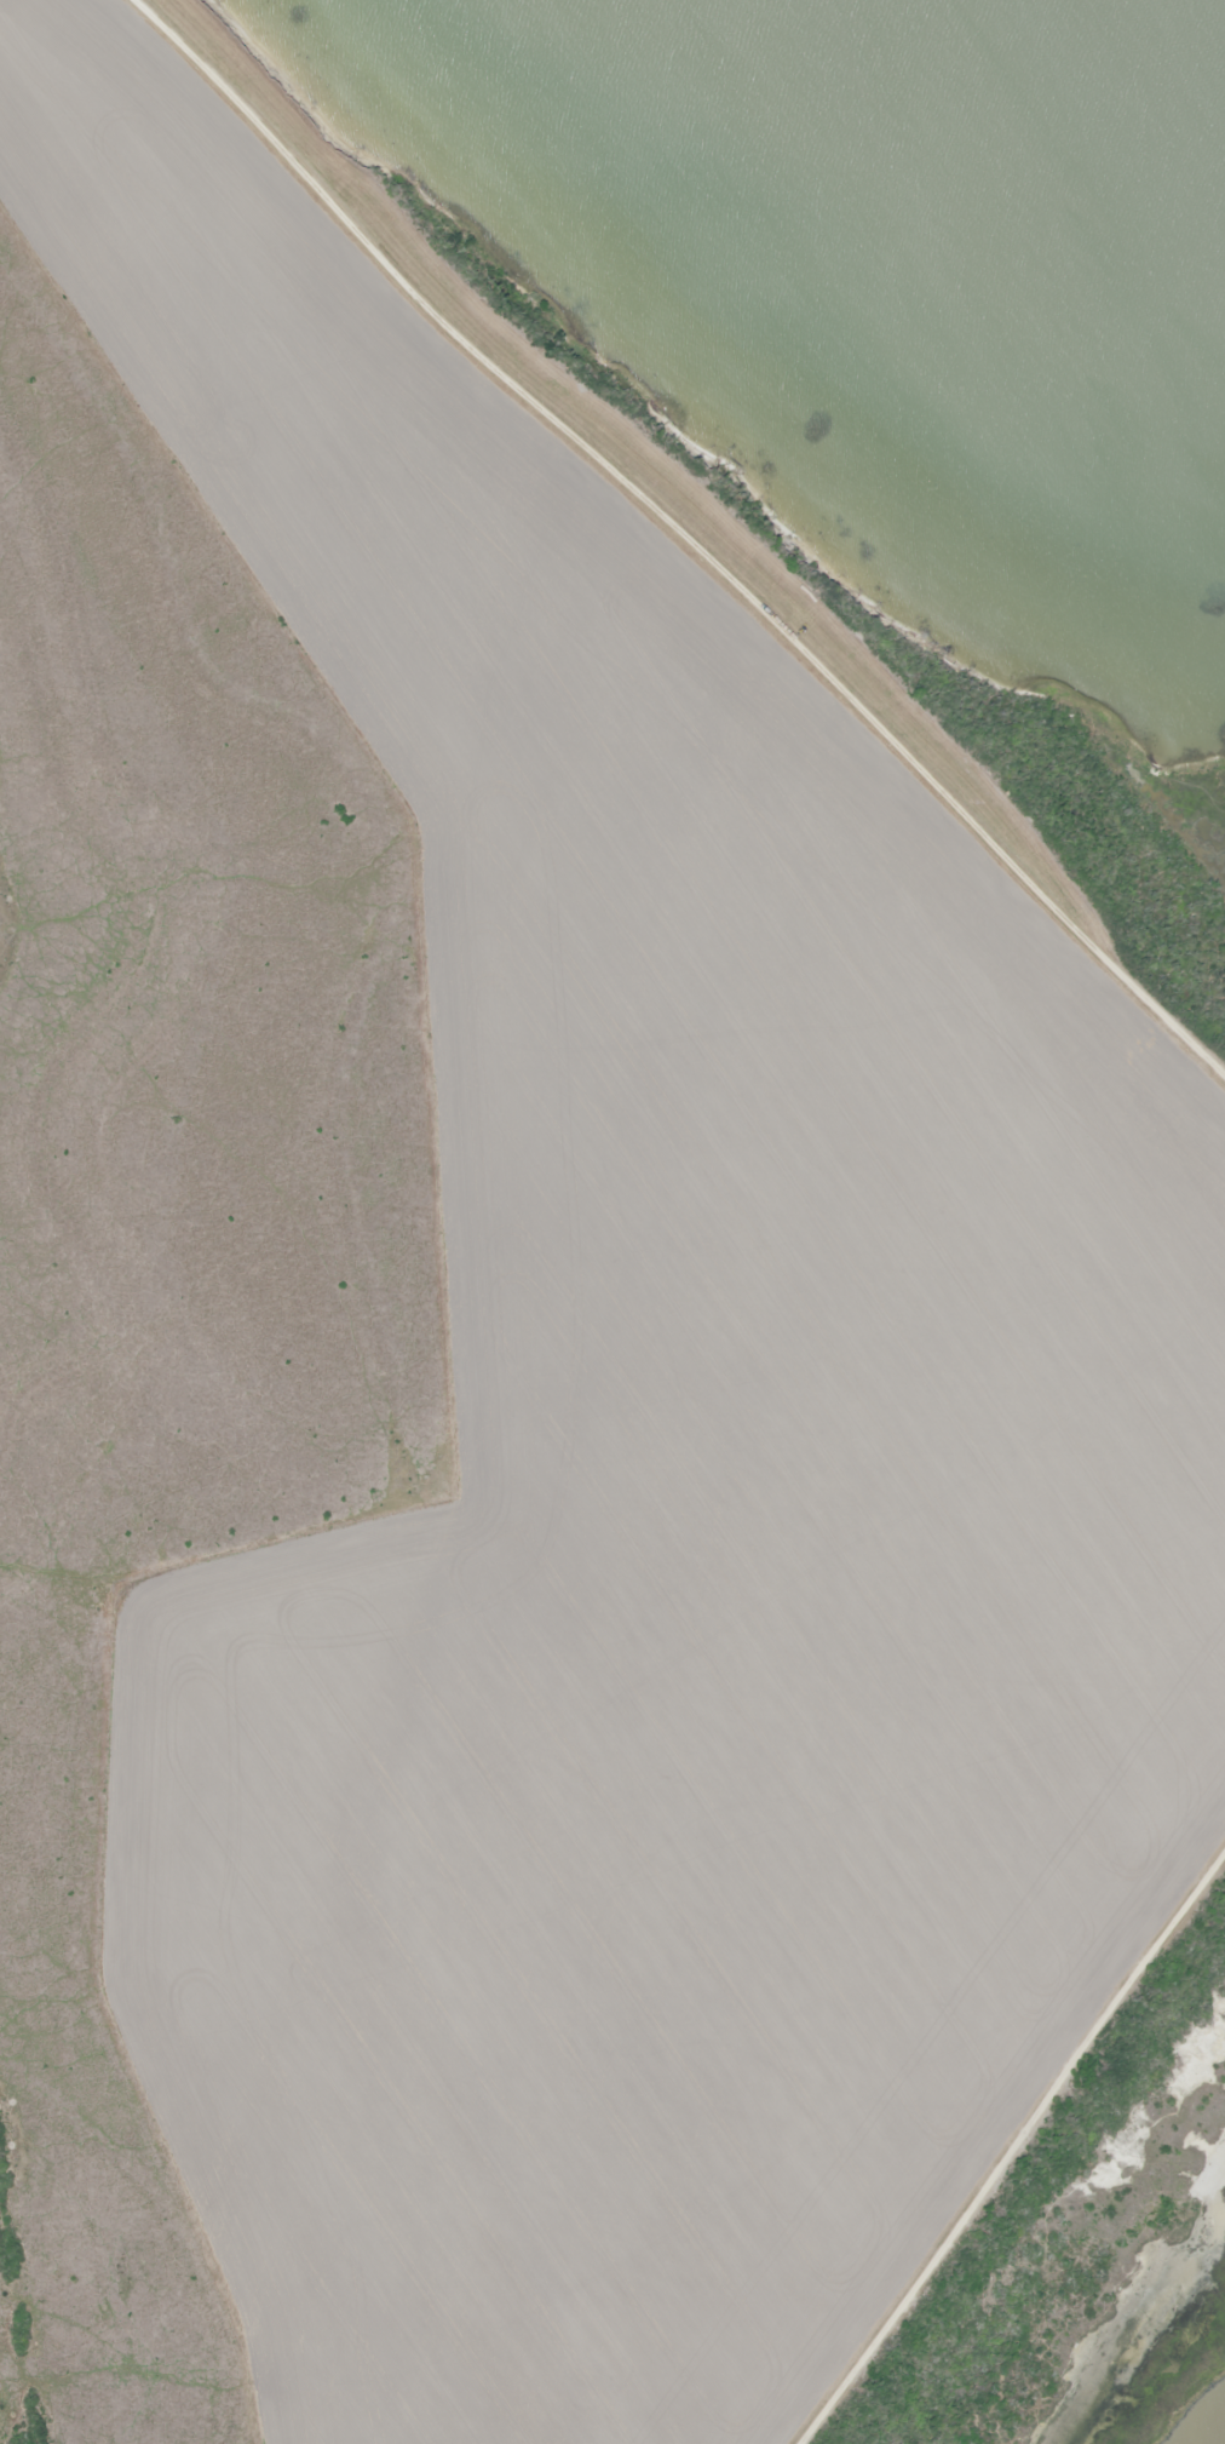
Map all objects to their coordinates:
road: (685, 530)
road: (1010, 2141)

